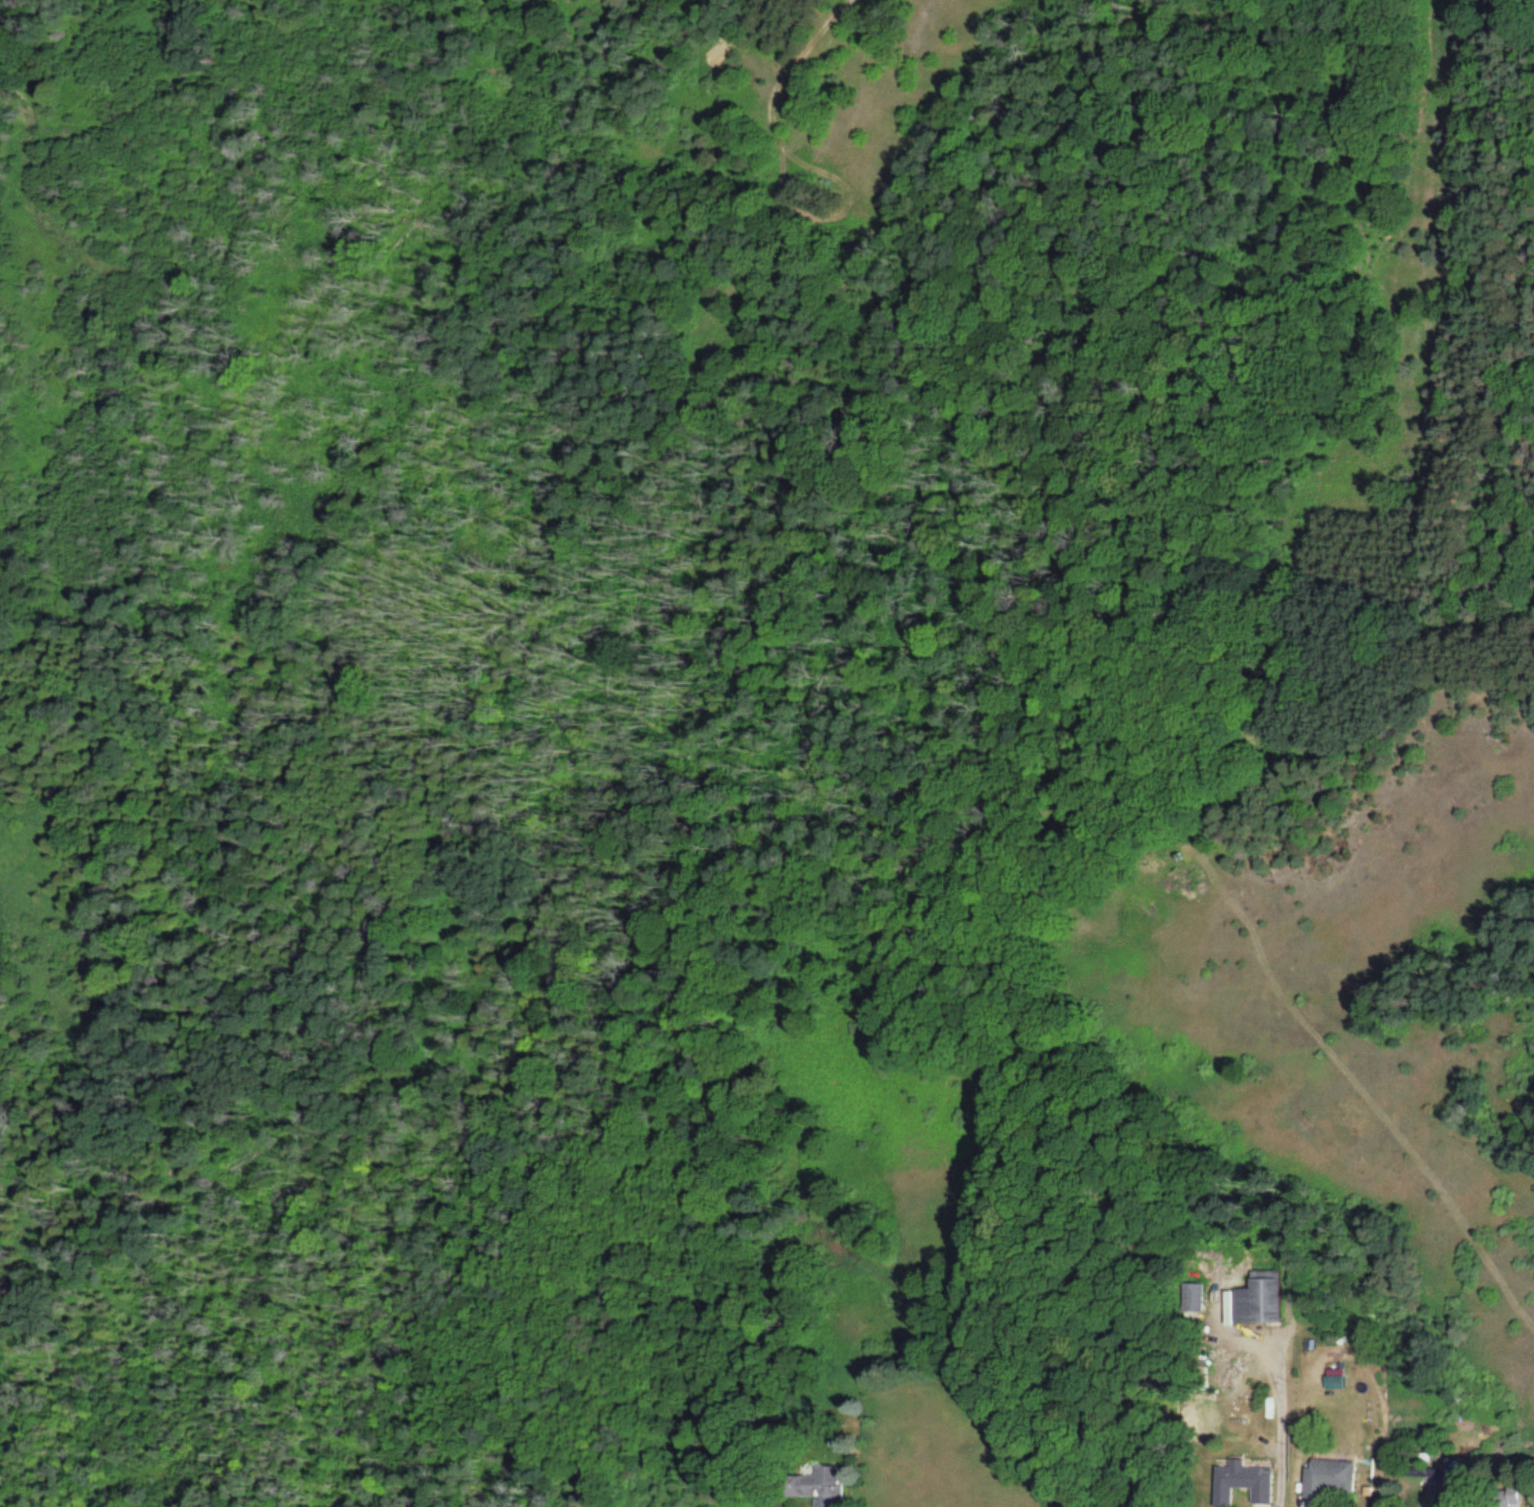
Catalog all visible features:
building: (1192, 1297)
building: (1257, 1299)
building: (1329, 1479)
building: (1243, 1483)
building: (814, 1486)
building: (1506, 1497)

